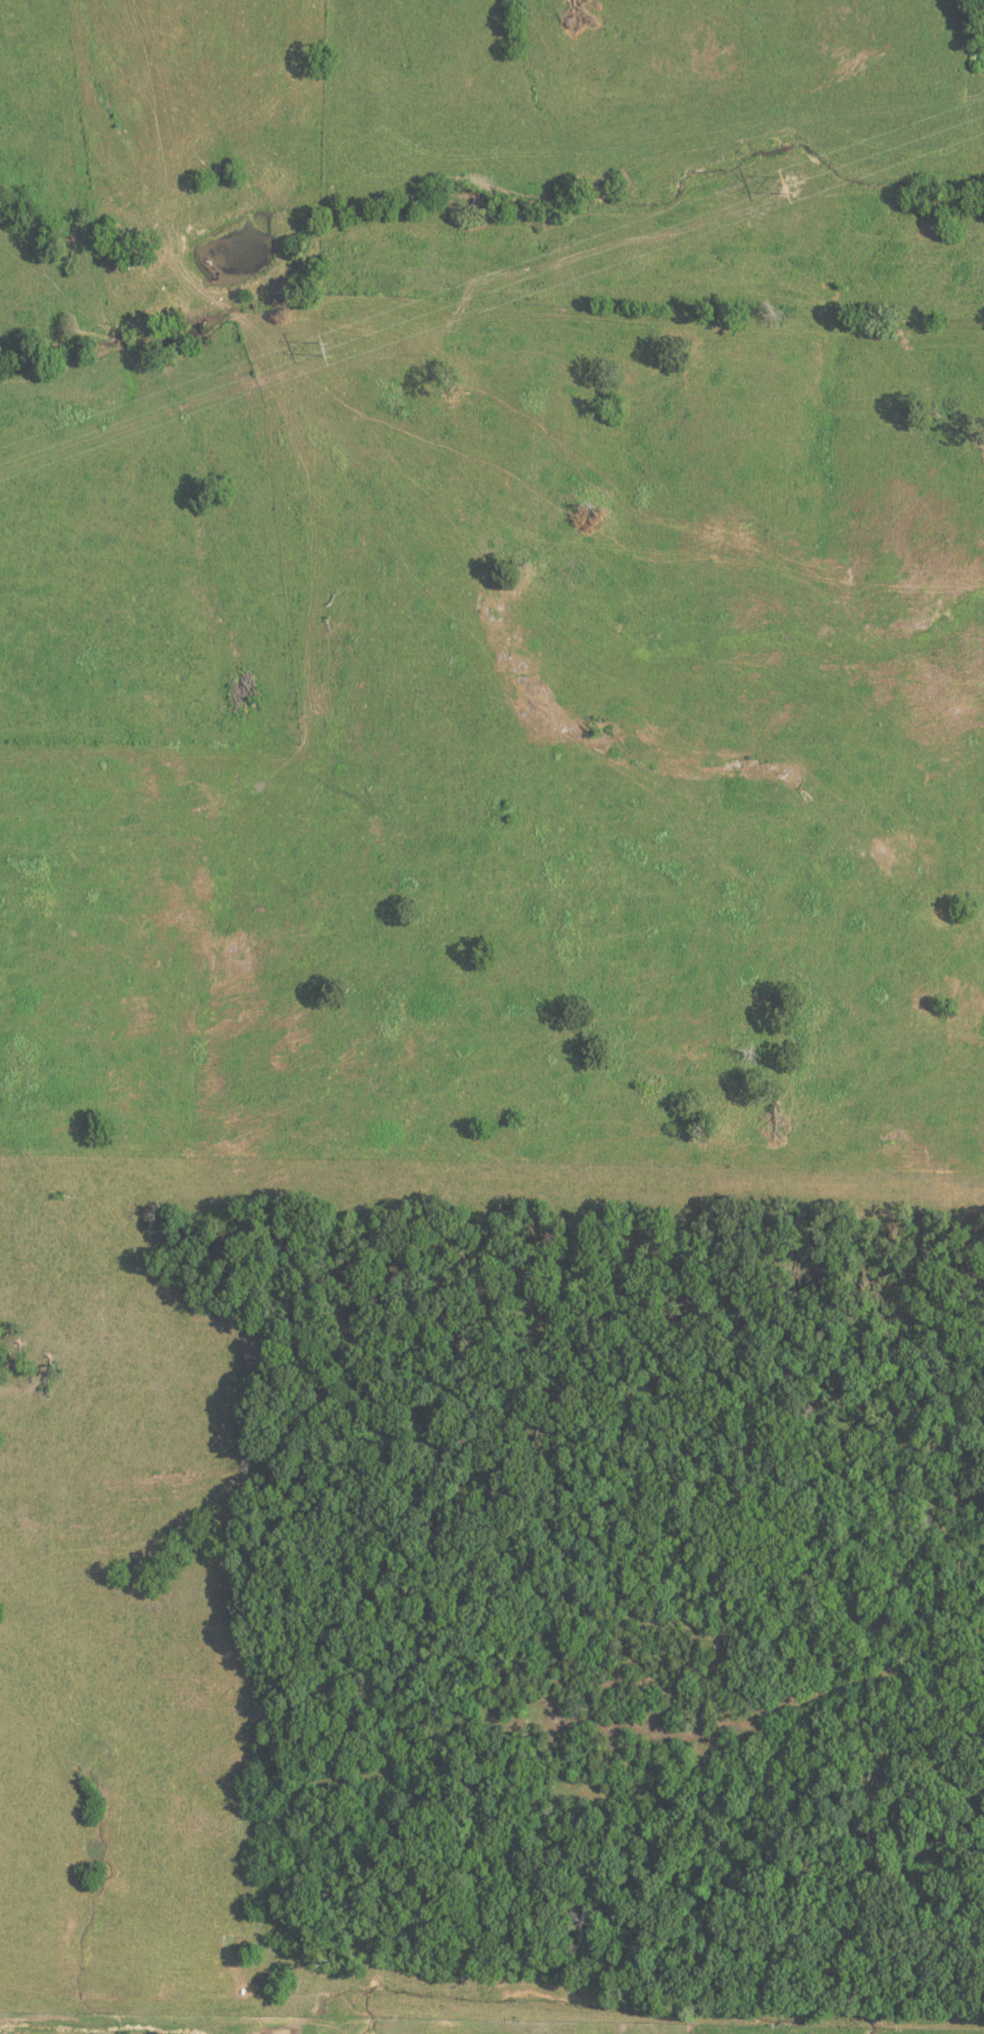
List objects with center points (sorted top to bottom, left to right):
power tower: (796, 183)
power tower: (328, 350)

